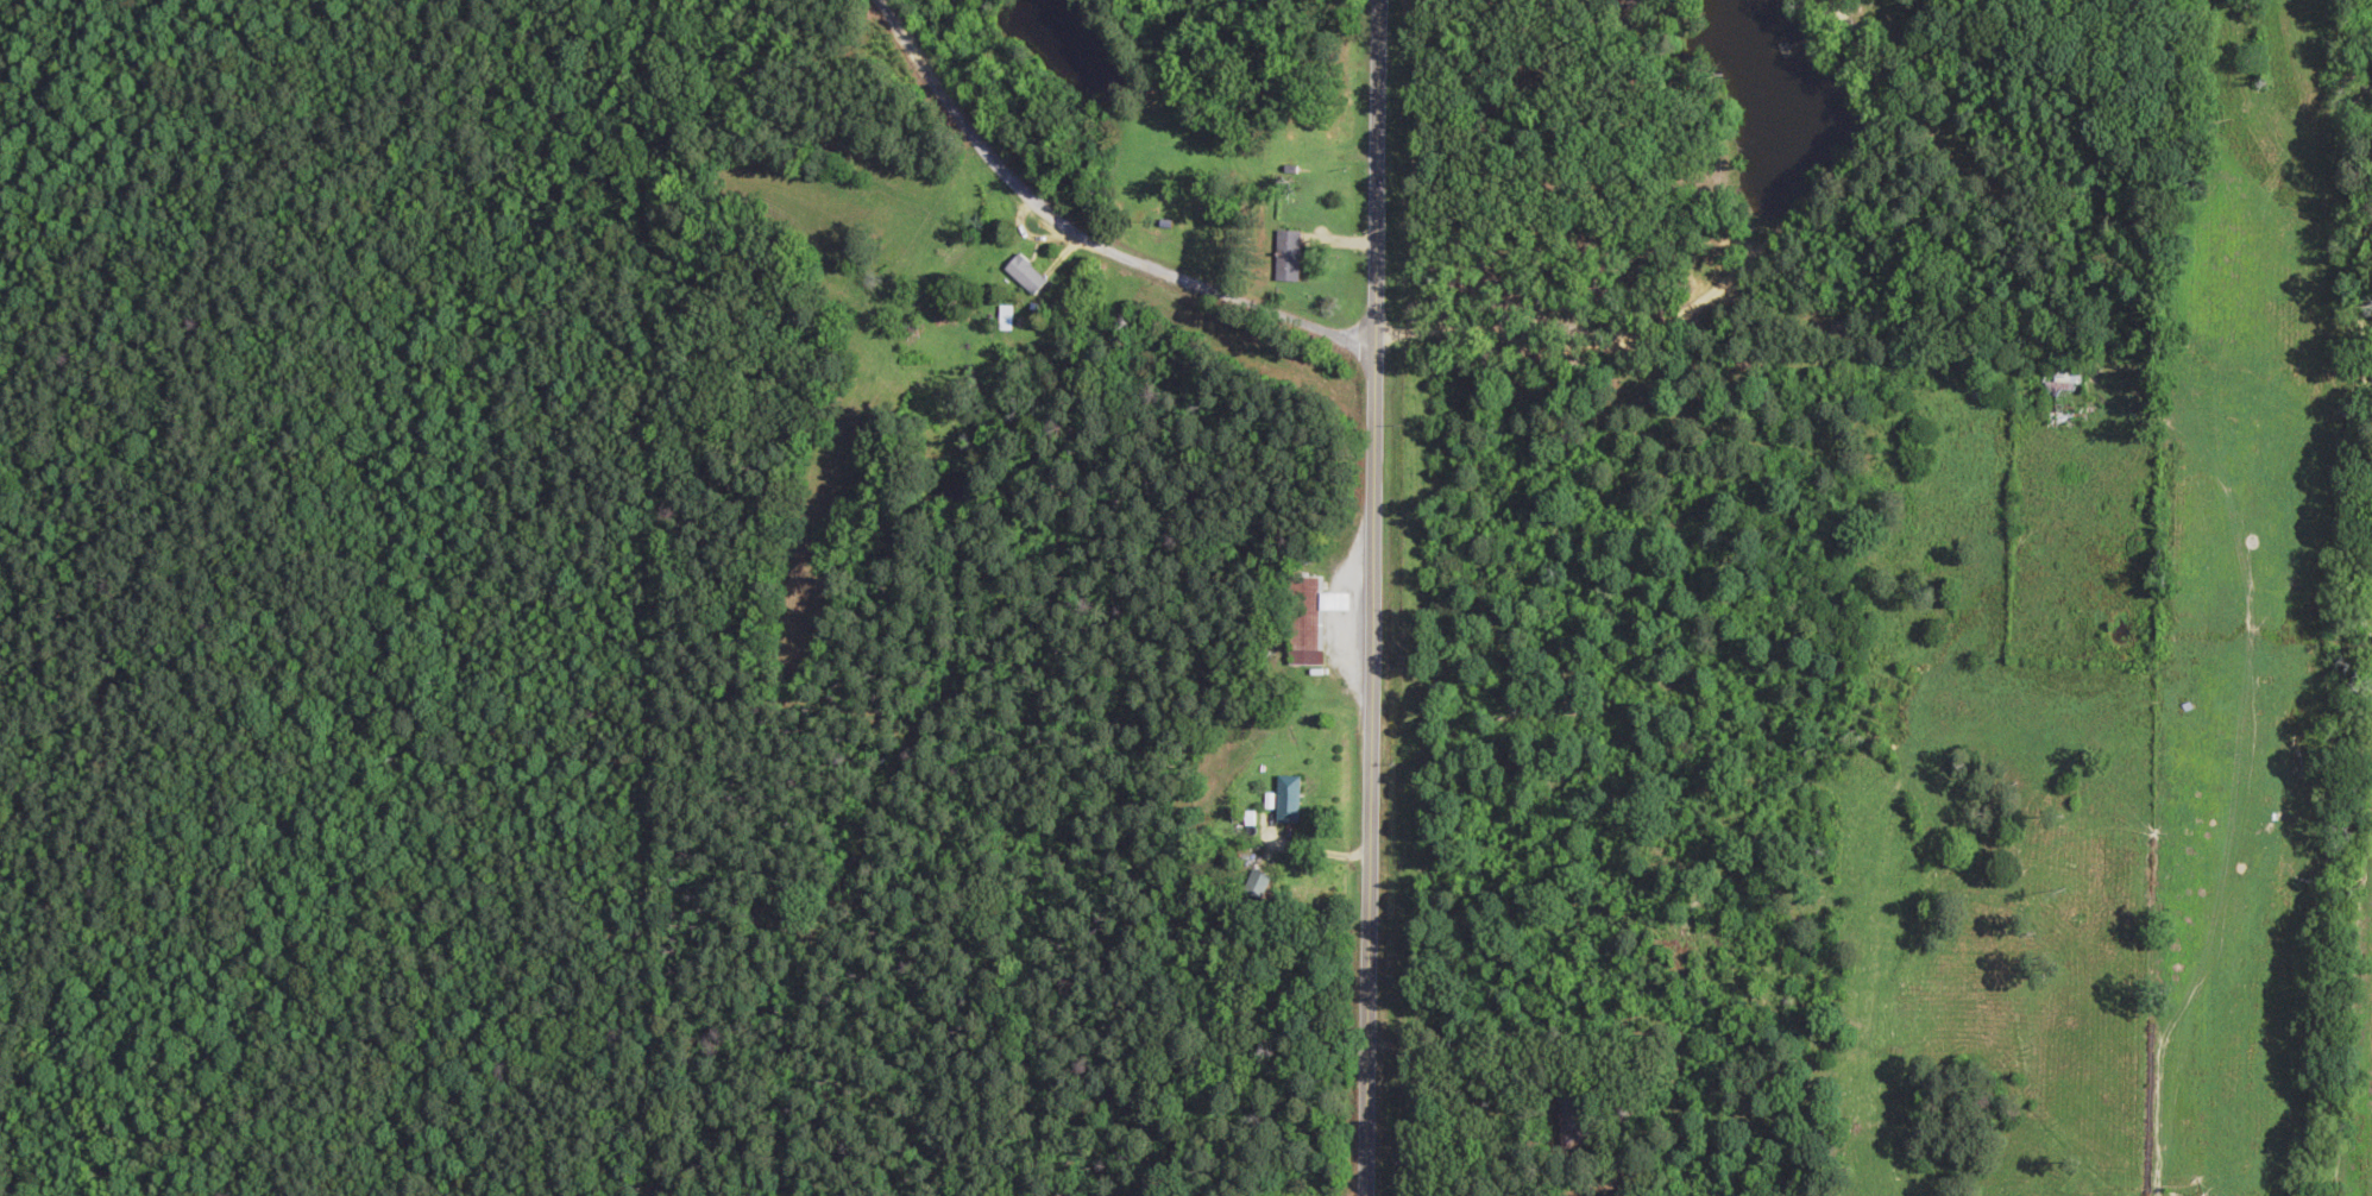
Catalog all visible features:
road: (1071, 237)
building: (1284, 257)
building: (1024, 277)
building: (2060, 390)
road: (1363, 597)
building: (1307, 618)
building: (1285, 800)
building: (1256, 886)

